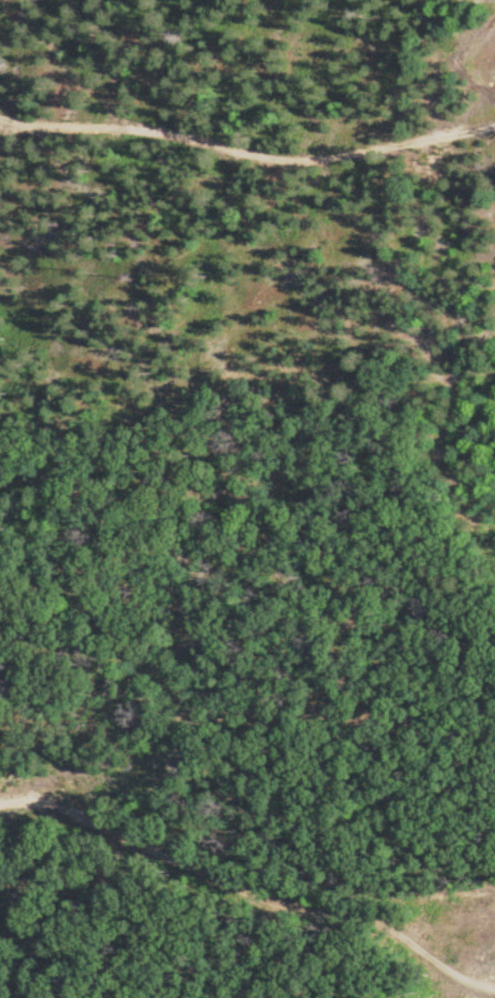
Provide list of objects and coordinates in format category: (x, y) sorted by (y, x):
road: (247, 149)
road: (242, 890)

